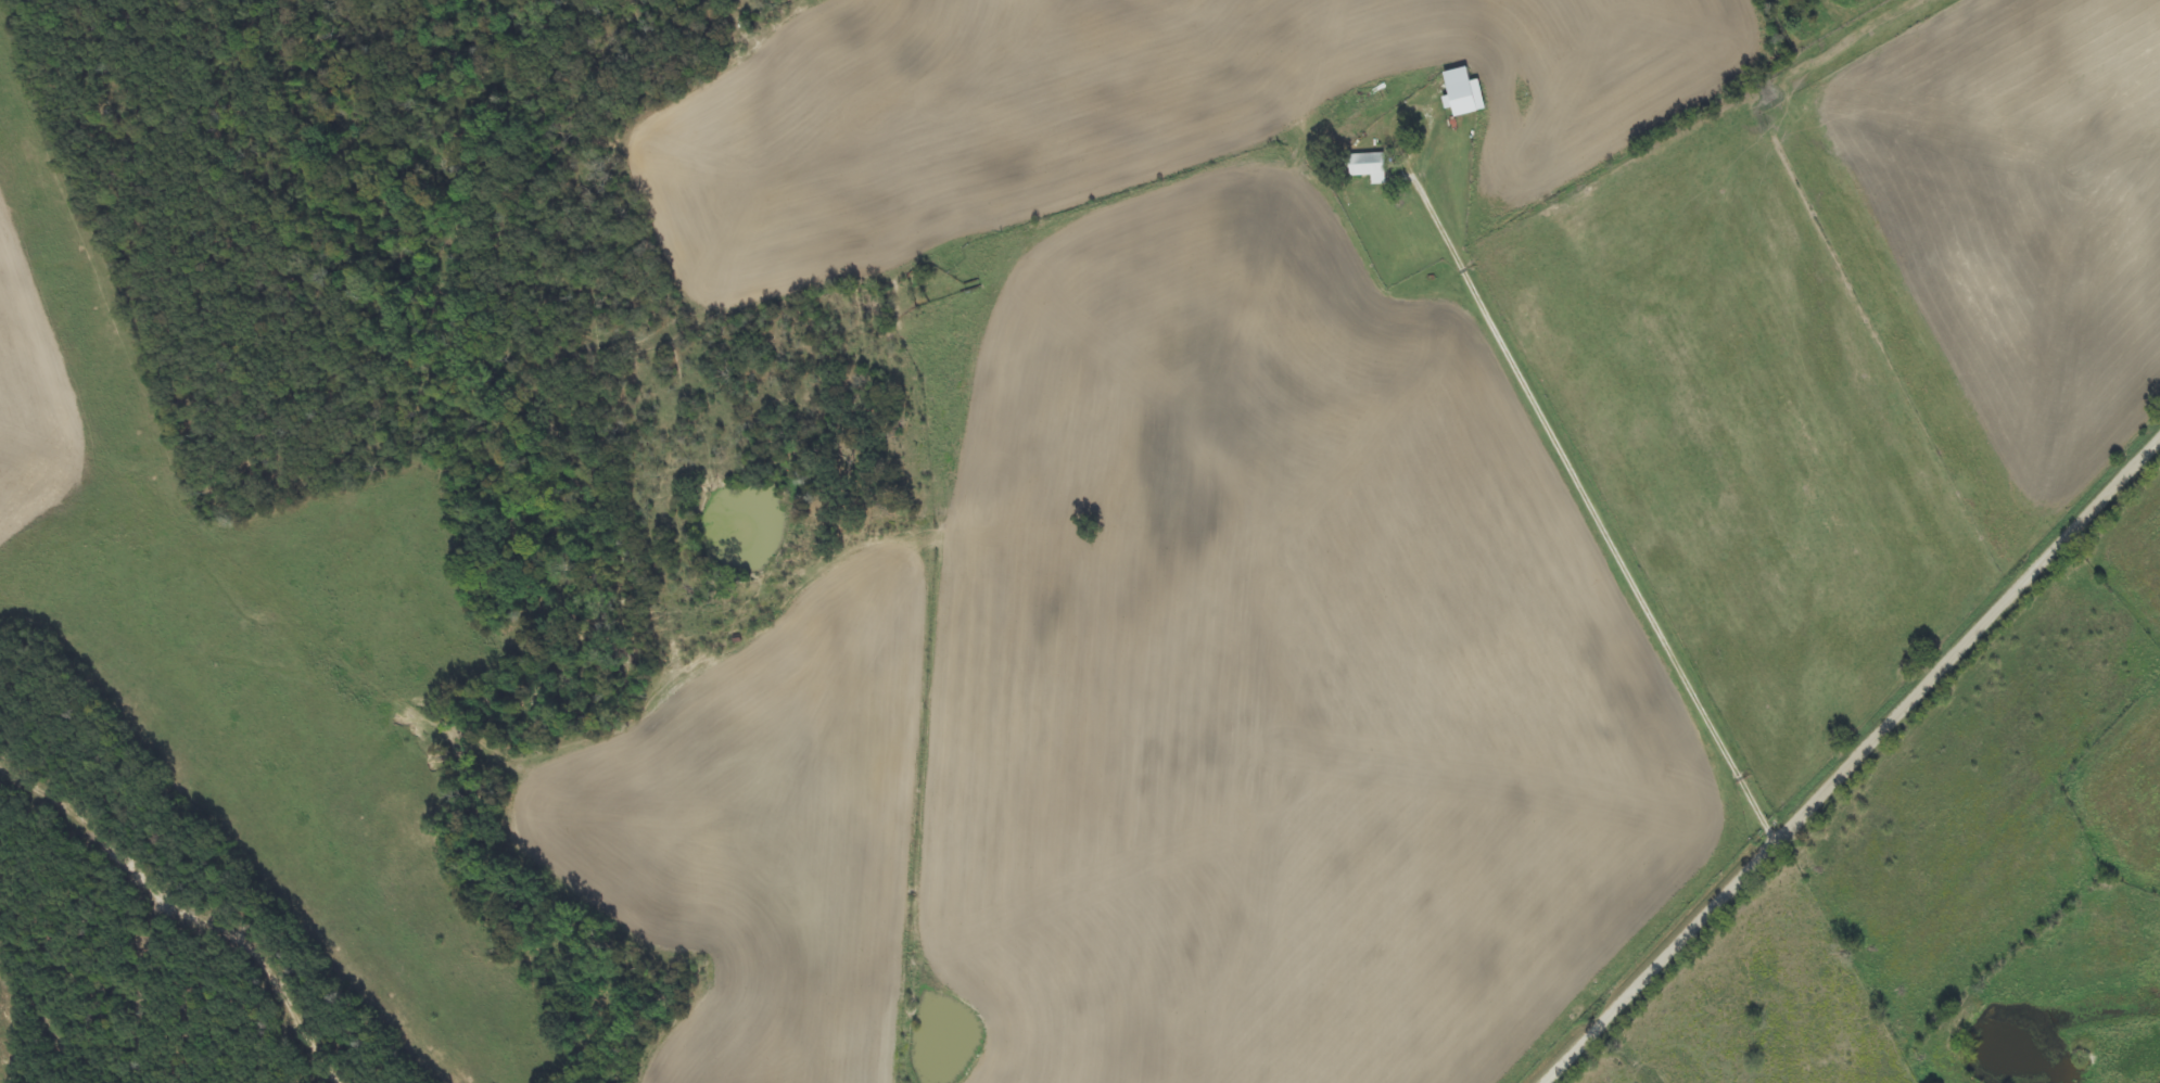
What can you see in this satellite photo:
building: (1466, 94)
building: (1372, 168)
road: (1858, 766)

